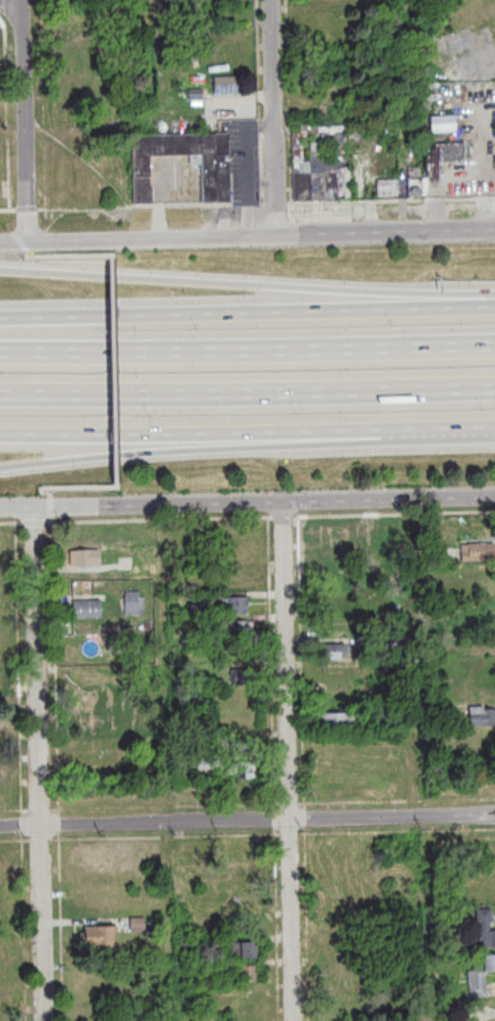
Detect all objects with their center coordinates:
road: (10, 5)
road: (42, 61)
building: (224, 85)
building: (194, 95)
road: (260, 101)
road: (7, 115)
road: (272, 117)
road: (22, 120)
building: (441, 124)
building: (446, 153)
building: (320, 163)
road: (248, 169)
building: (214, 171)
road: (459, 183)
building: (386, 187)
road: (393, 199)
road: (158, 201)
road: (277, 202)
road: (151, 205)
road: (27, 210)
road: (7, 211)
road: (386, 231)
road: (138, 237)
road: (60, 254)
road: (247, 283)
road: (247, 312)
road: (247, 349)
road: (113, 370)
road: (247, 393)
road: (473, 432)
road: (226, 435)
road: (226, 450)
road: (66, 487)
road: (263, 503)
road: (16, 506)
road: (50, 512)
road: (394, 515)
road: (282, 518)
road: (161, 521)
road: (11, 524)
road: (36, 524)
building: (379, 528)
building: (333, 533)
building: (477, 553)
building: (331, 554)
building: (86, 559)
building: (235, 579)
building: (335, 580)
building: (425, 589)
building: (133, 604)
building: (236, 606)
building: (87, 610)
building: (237, 630)
building: (394, 642)
building: (334, 651)
building: (239, 677)
building: (336, 697)
building: (481, 717)
building: (337, 722)
building: (92, 725)
building: (241, 748)
building: (184, 750)
road: (287, 761)
road: (36, 764)
building: (203, 764)
building: (241, 770)
building: (395, 785)
building: (336, 787)
road: (247, 819)
building: (238, 878)
building: (137, 925)
building: (485, 928)
building: (98, 938)
building: (186, 947)
building: (242, 950)
building: (489, 963)
building: (244, 975)
building: (476, 986)

